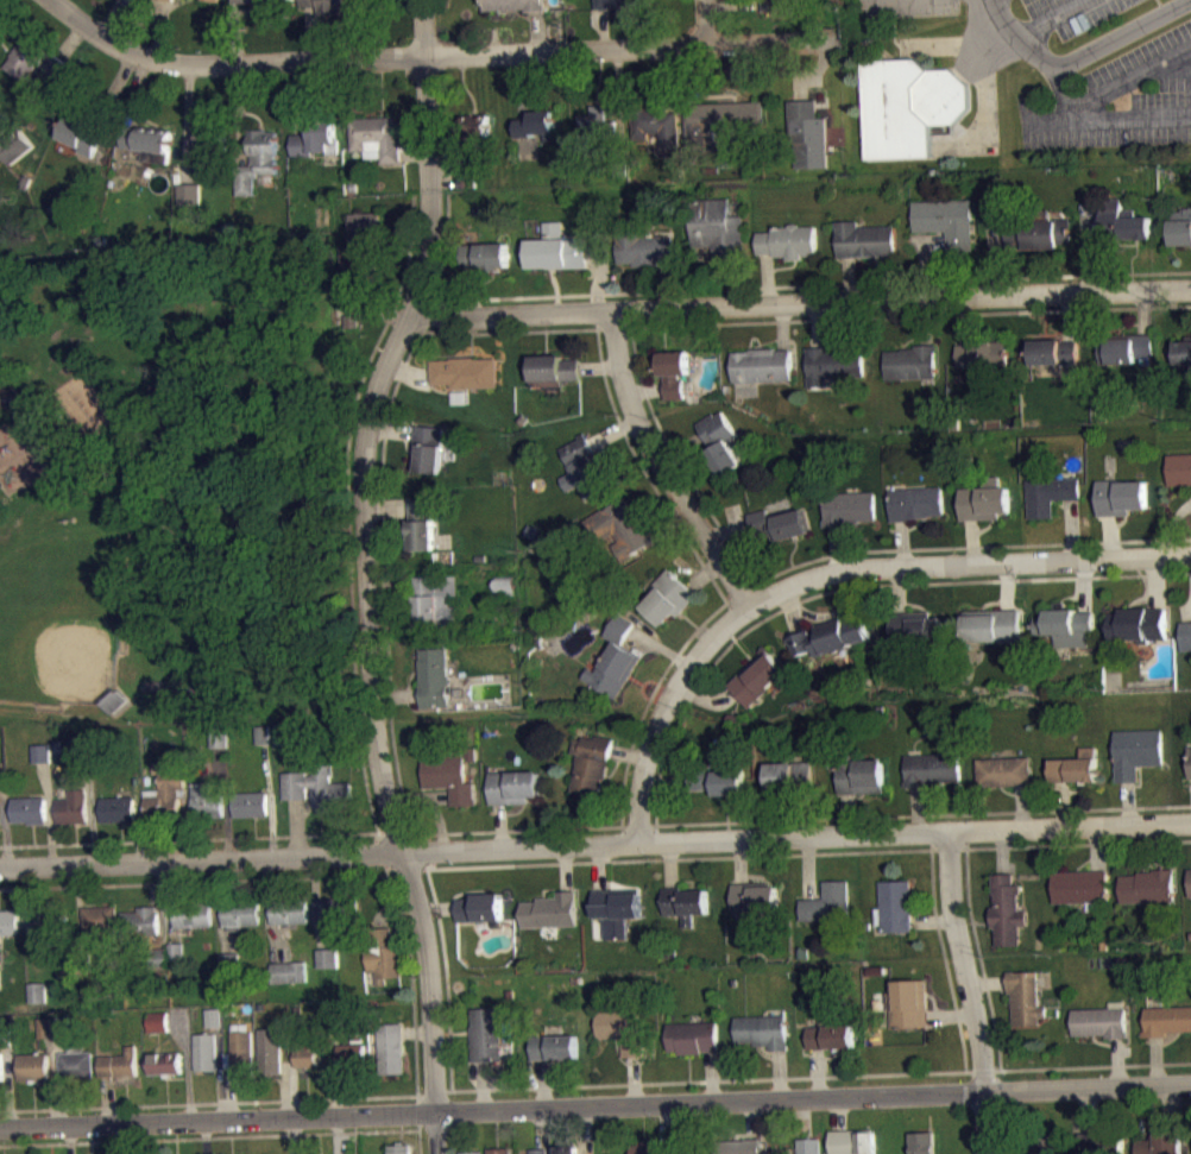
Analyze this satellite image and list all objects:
building: (214, 0)
building: (165, 2)
building: (253, 2)
building: (513, 4)
building: (622, 5)
road: (733, 5)
building: (779, 5)
building: (333, 6)
parking lot: (902, 7)
parking lot: (1075, 13)
road: (111, 18)
road: (1053, 18)
road: (705, 21)
road: (603, 29)
road: (159, 30)
road: (536, 30)
road: (233, 31)
road: (1117, 31)
road: (313, 32)
road: (1019, 36)
road: (69, 39)
road: (437, 53)
building: (31, 59)
road: (1179, 61)
road: (802, 71)
road: (693, 74)
road: (668, 78)
road: (1118, 81)
road: (519, 84)
road: (799, 84)
road: (137, 90)
road: (113, 93)
road: (297, 96)
parking lot: (1121, 97)
road: (617, 101)
building: (909, 106)
road: (240, 113)
road: (1103, 115)
building: (594, 121)
road: (185, 122)
building: (719, 124)
building: (474, 125)
building: (536, 125)
building: (656, 125)
road: (5, 131)
building: (807, 134)
building: (80, 135)
building: (376, 137)
building: (314, 138)
building: (146, 140)
building: (213, 143)
building: (15, 145)
road: (414, 151)
building: (258, 159)
building: (619, 165)
building: (465, 175)
road: (442, 177)
building: (189, 194)
building: (946, 220)
road: (1092, 221)
building: (1122, 221)
building: (1181, 227)
building: (718, 228)
building: (1038, 234)
building: (864, 239)
building: (789, 241)
road: (445, 246)
building: (361, 247)
building: (643, 247)
building: (556, 248)
road: (1084, 248)
building: (485, 254)
road: (925, 261)
road: (994, 261)
road: (599, 275)
road: (849, 278)
road: (767, 279)
road: (735, 283)
road: (664, 284)
road: (812, 284)
road: (471, 291)
road: (358, 302)
road: (396, 302)
road: (800, 303)
road: (384, 309)
road: (1142, 313)
road: (427, 314)
road: (902, 315)
road: (1067, 316)
road: (964, 320)
road: (925, 321)
road: (815, 324)
road: (781, 327)
road: (499, 332)
building: (1124, 349)
building: (1183, 351)
building: (1053, 352)
building: (982, 355)
building: (833, 362)
building: (910, 362)
building: (761, 365)
road: (600, 367)
building: (553, 368)
building: (464, 371)
building: (674, 371)
road: (407, 372)
road: (645, 389)
road: (391, 429)
road: (612, 431)
building: (719, 442)
building: (428, 448)
road: (680, 448)
road: (679, 460)
road: (641, 464)
road: (661, 466)
building: (585, 467)
building: (1179, 468)
park: (175, 484)
building: (1050, 493)
building: (1120, 497)
building: (915, 503)
building: (984, 503)
building: (849, 506)
road: (387, 509)
road: (667, 518)
building: (780, 524)
building: (422, 525)
road: (1171, 526)
building: (622, 529)
road: (1070, 529)
road: (727, 530)
road: (1108, 536)
road: (902, 542)
road: (971, 542)
road: (960, 546)
road: (836, 549)
building: (443, 565)
road: (830, 573)
road: (366, 574)
road: (702, 574)
road: (383, 579)
road: (1154, 582)
road: (391, 585)
road: (1083, 585)
road: (1006, 586)
road: (852, 587)
road: (900, 588)
building: (668, 598)
building: (436, 600)
road: (790, 611)
road: (837, 611)
park: (64, 614)
building: (1065, 625)
building: (1136, 625)
building: (992, 626)
building: (913, 631)
building: (830, 636)
building: (1186, 636)
road: (660, 647)
building: (613, 657)
building: (433, 676)
building: (758, 677)
road: (649, 693)
road: (395, 695)
road: (354, 696)
road: (704, 700)
road: (18, 711)
building: (261, 733)
building: (285, 733)
building: (218, 738)
building: (57, 745)
building: (81, 745)
building: (40, 752)
building: (1136, 752)
road: (629, 756)
building: (1189, 762)
building: (592, 763)
building: (1076, 768)
building: (932, 769)
building: (1002, 771)
building: (861, 775)
building: (448, 776)
building: (789, 777)
building: (2, 778)
building: (718, 781)
road: (666, 782)
building: (513, 787)
building: (317, 788)
building: (165, 794)
road: (436, 796)
building: (206, 800)
road: (227, 801)
building: (250, 803)
road: (430, 803)
road: (1127, 803)
road: (1060, 805)
building: (73, 807)
road: (1020, 807)
road: (92, 808)
building: (118, 808)
road: (916, 809)
building: (30, 811)
road: (50, 813)
road: (849, 813)
road: (805, 814)
road: (182, 822)
road: (272, 824)
road: (295, 826)
road: (499, 826)
road: (594, 826)
road: (5, 827)
road: (139, 833)
road: (594, 844)
road: (1162, 846)
road: (1096, 849)
road: (428, 850)
road: (1002, 851)
road: (380, 852)
road: (594, 860)
road: (741, 860)
road: (670, 864)
road: (600, 866)
road: (566, 868)
road: (808, 868)
building: (1190, 883)
building: (1147, 885)
building: (1079, 887)
road: (165, 896)
building: (755, 897)
road: (25, 898)
road: (314, 902)
building: (685, 902)
building: (828, 903)
road: (218, 906)
building: (895, 906)
road: (389, 907)
road: (80, 908)
road: (436, 908)
building: (479, 908)
building: (617, 908)
road: (267, 909)
building: (338, 909)
building: (550, 909)
building: (1007, 909)
building: (289, 912)
building: (240, 913)
building: (193, 914)
building: (100, 919)
building: (140, 921)
road: (932, 921)
building: (8, 922)
building: (49, 926)
road: (170, 938)
road: (163, 939)
building: (176, 951)
building: (382, 956)
building: (327, 957)
building: (158, 959)
building: (228, 961)
building: (83, 963)
building: (288, 971)
road: (983, 976)
road: (988, 980)
road: (411, 983)
building: (0, 986)
road: (446, 988)
building: (37, 991)
road: (970, 992)
building: (1025, 996)
building: (908, 1003)
building: (228, 1009)
road: (950, 1014)
building: (212, 1017)
building: (157, 1021)
building: (1166, 1021)
building: (1099, 1022)
building: (61, 1024)
building: (44, 1027)
building: (623, 1029)
building: (762, 1030)
road: (416, 1032)
building: (485, 1033)
building: (830, 1035)
building: (692, 1036)
building: (4, 1038)
road: (57, 1043)
road: (49, 1045)
building: (553, 1047)
building: (390, 1048)
building: (269, 1049)
building: (240, 1051)
building: (206, 1052)
building: (351, 1055)
building: (304, 1057)
road: (1155, 1061)
road: (185, 1062)
road: (1116, 1062)
building: (76, 1064)
building: (119, 1064)
building: (164, 1064)
building: (0, 1066)
building: (33, 1066)
road: (1096, 1066)
road: (219, 1072)
road: (818, 1072)
road: (711, 1074)
road: (779, 1074)
road: (821, 1076)
road: (632, 1080)
road: (542, 1083)
road: (481, 1084)
road: (7, 1087)
road: (283, 1089)
road: (291, 1089)
road: (53, 1090)
road: (334, 1090)
road: (228, 1095)
road: (107, 1101)
road: (1180, 1101)
road: (216, 1103)
road: (594, 1104)
road: (1170, 1108)
road: (1091, 1111)
road: (838, 1114)
road: (802, 1118)
road: (752, 1120)
road: (538, 1127)
road: (587, 1127)
road: (669, 1128)
road: (338, 1134)
road: (292, 1135)
road: (204, 1136)
road: (227, 1137)
road: (69, 1140)
building: (852, 1141)
road: (420, 1142)
building: (922, 1142)
building: (1161, 1142)
building: (1041, 1143)
building: (1101, 1144)
building: (808, 1146)
building: (738, 1147)
building: (645, 1148)
building: (401, 1149)
building: (538, 1149)
building: (498, 1150)
building: (567, 1150)
building: (471, 1152)

